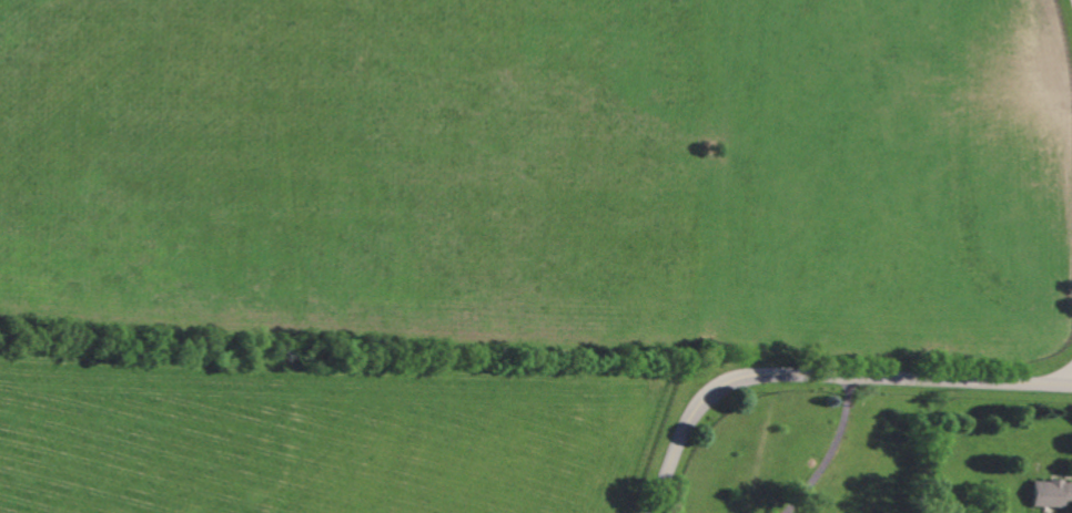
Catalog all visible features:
road: (823, 377)
road: (831, 451)
building: (1051, 493)

